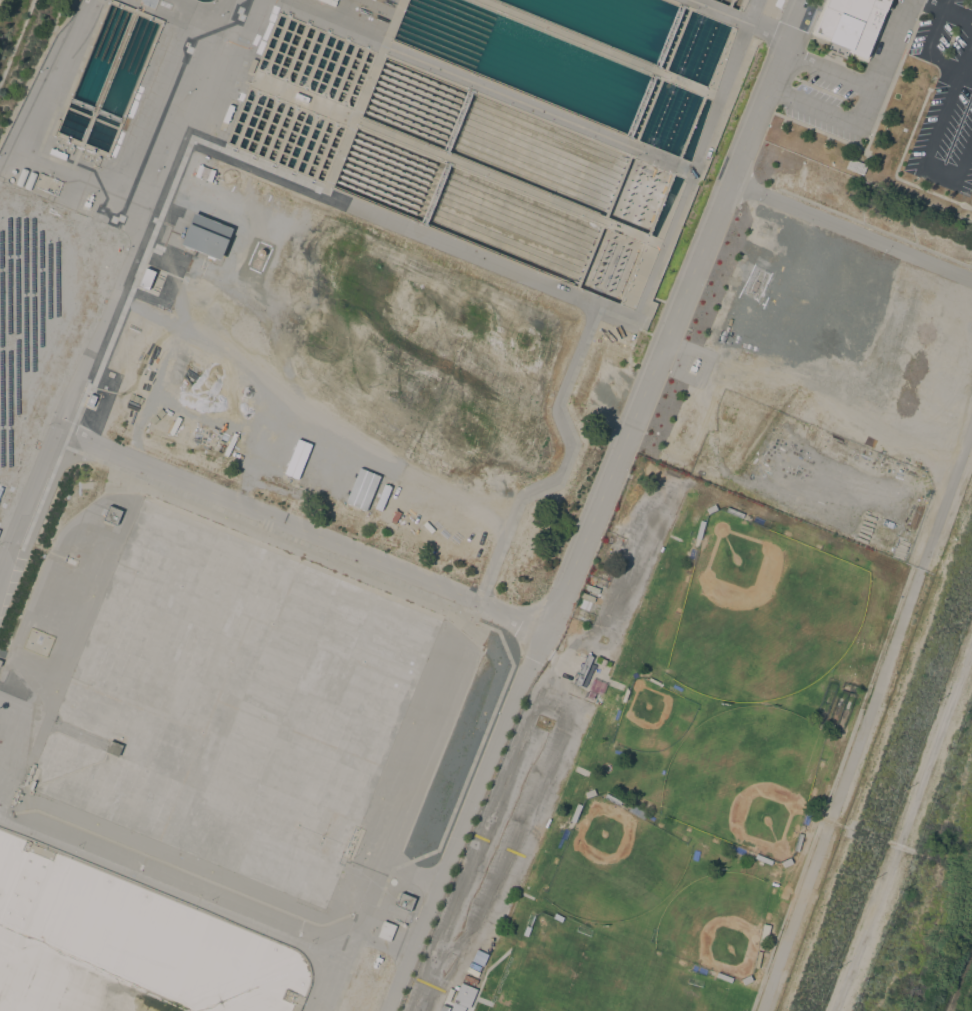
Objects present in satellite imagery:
road: (948, 7)
building: (851, 25)
building: (251, 65)
road: (864, 81)
building: (300, 98)
building: (228, 113)
building: (55, 126)
building: (58, 153)
building: (855, 166)
building: (21, 176)
building: (31, 179)
building: (88, 201)
road: (150, 215)
road: (849, 232)
building: (206, 236)
building: (145, 278)
building: (51, 291)
road: (672, 316)
building: (121, 342)
building: (694, 365)
building: (90, 400)
wastewater plant: (410, 419)
building: (361, 489)
building: (711, 508)
road: (32, 509)
building: (734, 512)
building: (112, 514)
building: (760, 520)
building: (700, 529)
road: (305, 530)
park: (766, 607)
building: (37, 642)
building: (0, 662)
building: (583, 669)
building: (595, 688)
park: (658, 716)
road: (542, 724)
building: (113, 748)
park: (675, 765)
park: (751, 780)
building: (590, 793)
building: (612, 799)
building: (637, 811)
building: (575, 812)
building: (806, 816)
road: (463, 819)
building: (564, 837)
building: (798, 842)
building: (763, 859)
park: (616, 860)
building: (786, 862)
building: (404, 901)
building: (559, 917)
park: (720, 924)
building: (386, 930)
building: (525, 931)
building: (757, 959)
building: (376, 961)
building: (698, 969)
park: (601, 976)
building: (724, 977)
building: (746, 980)
building: (464, 995)
building: (458, 1008)
building: (439, 1010)

